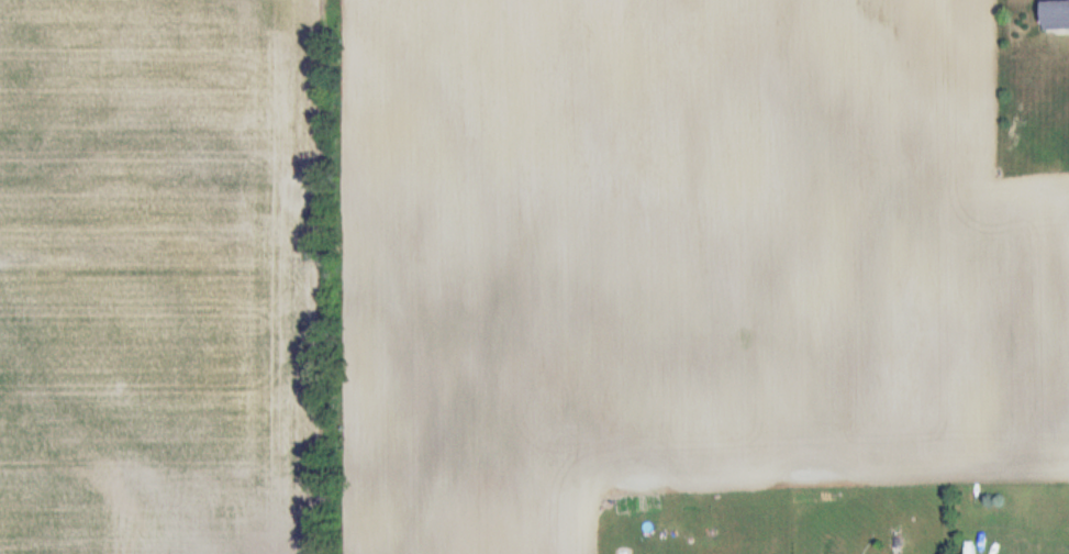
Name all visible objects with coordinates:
building: (1056, 14)

